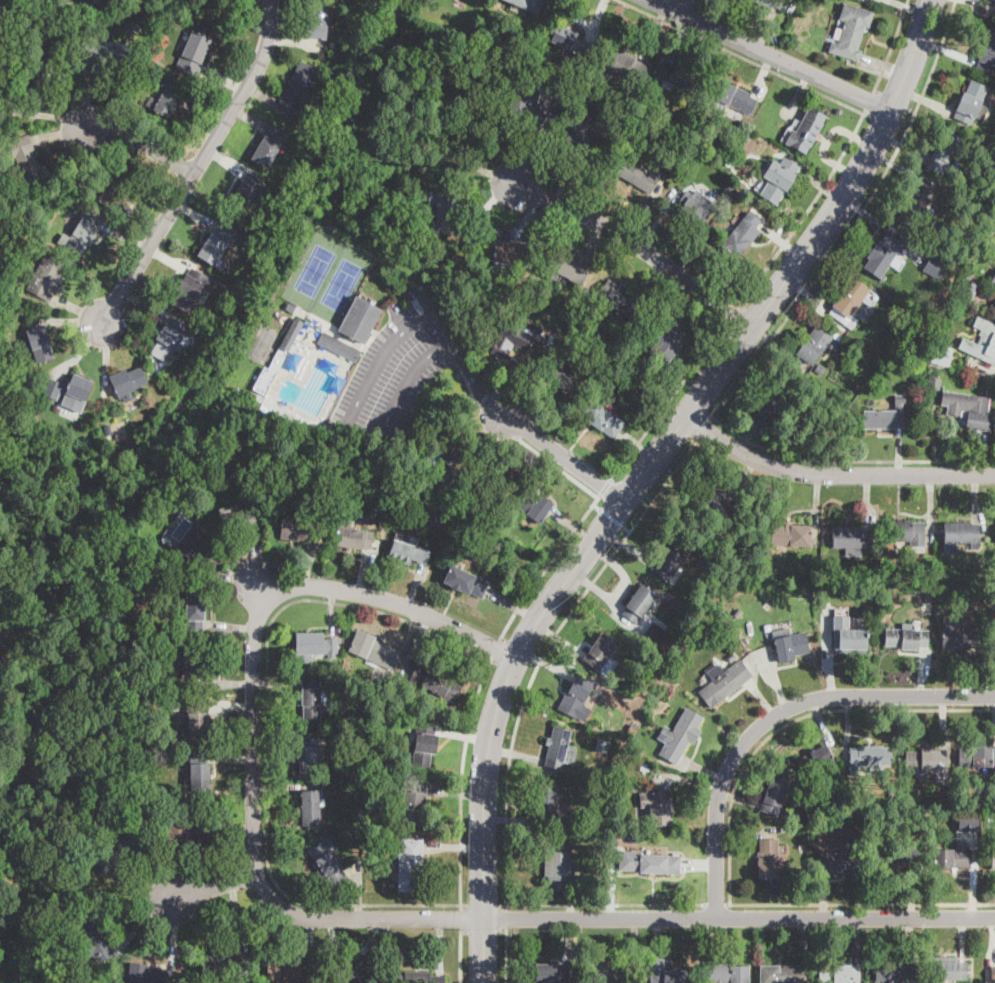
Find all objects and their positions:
building: (994, 0)
building: (27, 3)
building: (773, 3)
building: (528, 4)
building: (69, 5)
building: (98, 6)
road: (682, 6)
road: (908, 7)
road: (597, 17)
building: (172, 21)
building: (317, 21)
road: (766, 29)
building: (851, 31)
road: (653, 32)
road: (678, 36)
building: (570, 40)
road: (297, 42)
road: (892, 46)
building: (154, 52)
building: (987, 52)
building: (108, 53)
building: (193, 53)
road: (773, 55)
road: (744, 57)
building: (626, 65)
building: (1, 70)
road: (885, 70)
building: (36, 72)
road: (764, 75)
building: (679, 77)
road: (223, 81)
building: (296, 90)
building: (631, 92)
road: (798, 93)
road: (911, 93)
road: (261, 94)
building: (735, 96)
road: (88, 98)
building: (166, 100)
road: (869, 100)
road: (894, 101)
building: (970, 101)
building: (533, 106)
road: (205, 108)
building: (623, 114)
road: (55, 116)
road: (248, 118)
road: (886, 124)
building: (684, 127)
building: (806, 131)
road: (63, 133)
building: (459, 134)
building: (584, 141)
building: (269, 145)
road: (144, 148)
road: (533, 153)
building: (947, 153)
building: (29, 163)
road: (223, 163)
road: (199, 164)
building: (246, 167)
road: (484, 171)
building: (638, 176)
road: (579, 177)
building: (778, 180)
building: (714, 182)
building: (118, 185)
building: (728, 190)
building: (247, 197)
building: (443, 202)
building: (915, 204)
building: (696, 208)
road: (807, 210)
road: (479, 212)
road: (640, 212)
road: (192, 214)
road: (529, 215)
road: (143, 216)
road: (662, 217)
road: (855, 220)
building: (431, 228)
building: (83, 233)
building: (742, 235)
road: (127, 237)
road: (594, 238)
building: (216, 244)
road: (637, 245)
building: (509, 249)
building: (883, 255)
road: (166, 259)
building: (932, 265)
building: (566, 266)
park: (311, 269)
building: (47, 278)
building: (993, 278)
road: (652, 281)
park: (339, 283)
building: (191, 289)
building: (968, 290)
building: (229, 296)
building: (619, 298)
building: (849, 301)
building: (993, 302)
road: (141, 307)
building: (290, 307)
road: (693, 308)
road: (80, 311)
road: (733, 316)
road: (68, 319)
building: (359, 320)
building: (538, 327)
road: (745, 337)
building: (169, 338)
building: (510, 340)
building: (38, 343)
building: (667, 343)
building: (983, 343)
building: (816, 344)
park: (264, 345)
building: (339, 347)
building: (871, 348)
building: (915, 349)
road: (81, 350)
building: (940, 354)
road: (105, 356)
building: (276, 359)
building: (821, 370)
parking lot: (393, 372)
building: (559, 378)
road: (511, 380)
road: (471, 381)
building: (128, 382)
building: (934, 383)
building: (70, 391)
road: (668, 401)
building: (776, 402)
building: (275, 406)
building: (968, 409)
road: (352, 413)
building: (887, 415)
road: (548, 419)
building: (603, 419)
road: (705, 428)
road: (483, 437)
road: (663, 445)
road: (639, 446)
road: (498, 449)
building: (447, 451)
road: (563, 456)
road: (848, 460)
road: (557, 466)
road: (833, 473)
building: (493, 481)
building: (470, 482)
building: (370, 485)
road: (604, 488)
building: (381, 495)
building: (714, 503)
building: (534, 505)
road: (596, 505)
road: (611, 516)
building: (238, 521)
road: (572, 525)
building: (298, 527)
road: (626, 528)
building: (909, 530)
building: (180, 531)
building: (961, 534)
building: (791, 535)
building: (354, 537)
building: (852, 538)
building: (197, 547)
building: (408, 553)
building: (673, 557)
road: (258, 558)
road: (547, 565)
road: (310, 566)
road: (363, 572)
road: (239, 577)
building: (745, 579)
building: (466, 582)
road: (415, 586)
road: (262, 589)
building: (816, 589)
building: (670, 598)
building: (640, 604)
road: (513, 605)
road: (333, 610)
building: (195, 611)
building: (737, 612)
building: (720, 623)
road: (231, 627)
road: (410, 629)
building: (654, 633)
building: (851, 638)
building: (906, 638)
building: (958, 639)
road: (421, 644)
building: (315, 646)
building: (787, 647)
road: (494, 648)
building: (374, 651)
road: (543, 651)
building: (601, 652)
building: (197, 660)
building: (669, 672)
road: (227, 682)
road: (276, 682)
building: (435, 682)
building: (724, 682)
building: (310, 698)
building: (576, 699)
building: (623, 700)
road: (232, 706)
road: (775, 714)
building: (197, 719)
road: (791, 721)
road: (254, 725)
road: (268, 729)
building: (631, 729)
road: (463, 735)
building: (682, 735)
road: (277, 740)
building: (424, 745)
building: (602, 747)
building: (559, 748)
building: (309, 756)
building: (871, 757)
building: (984, 757)
road: (232, 758)
building: (814, 759)
building: (928, 763)
building: (199, 773)
road: (461, 782)
road: (455, 792)
road: (275, 793)
building: (890, 793)
building: (774, 797)
building: (547, 799)
building: (413, 802)
building: (311, 808)
building: (657, 808)
building: (351, 821)
building: (614, 826)
building: (193, 830)
road: (239, 830)
building: (309, 845)
road: (453, 845)
building: (956, 847)
building: (115, 850)
building: (900, 856)
building: (768, 859)
building: (991, 860)
building: (649, 862)
building: (839, 862)
building: (49, 864)
building: (328, 864)
building: (558, 864)
building: (411, 865)
road: (156, 873)
road: (359, 888)
road: (214, 890)
road: (603, 903)
road: (716, 903)
road: (861, 903)
road: (484, 906)
road: (738, 917)
road: (237, 918)
road: (462, 919)
road: (507, 919)
road: (145, 926)
road: (484, 930)
road: (172, 934)
road: (310, 940)
building: (95, 941)
road: (439, 945)
road: (482, 950)
road: (461, 956)
road: (507, 956)
road: (354, 962)
building: (222, 965)
building: (948, 971)
building: (291, 972)
building: (603, 972)
building: (552, 973)
building: (665, 973)
building: (726, 973)
building: (895, 973)
building: (992, 973)
building: (149, 974)
building: (354, 974)
building: (781, 974)
building: (840, 974)
building: (419, 977)

